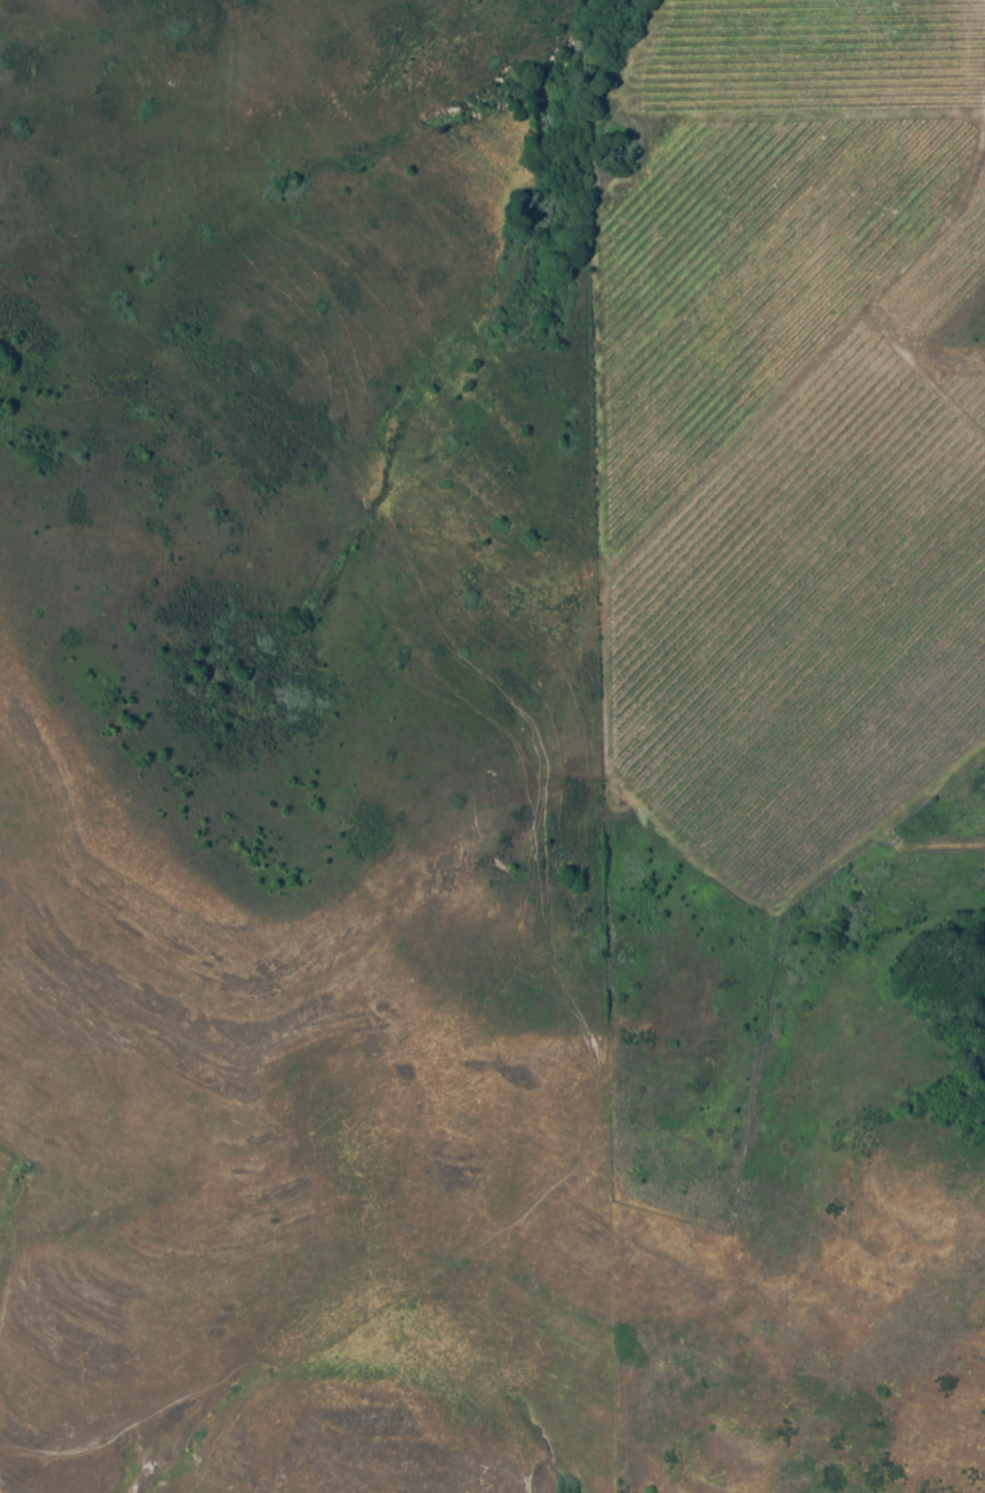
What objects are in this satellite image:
crop: (794, 427)

